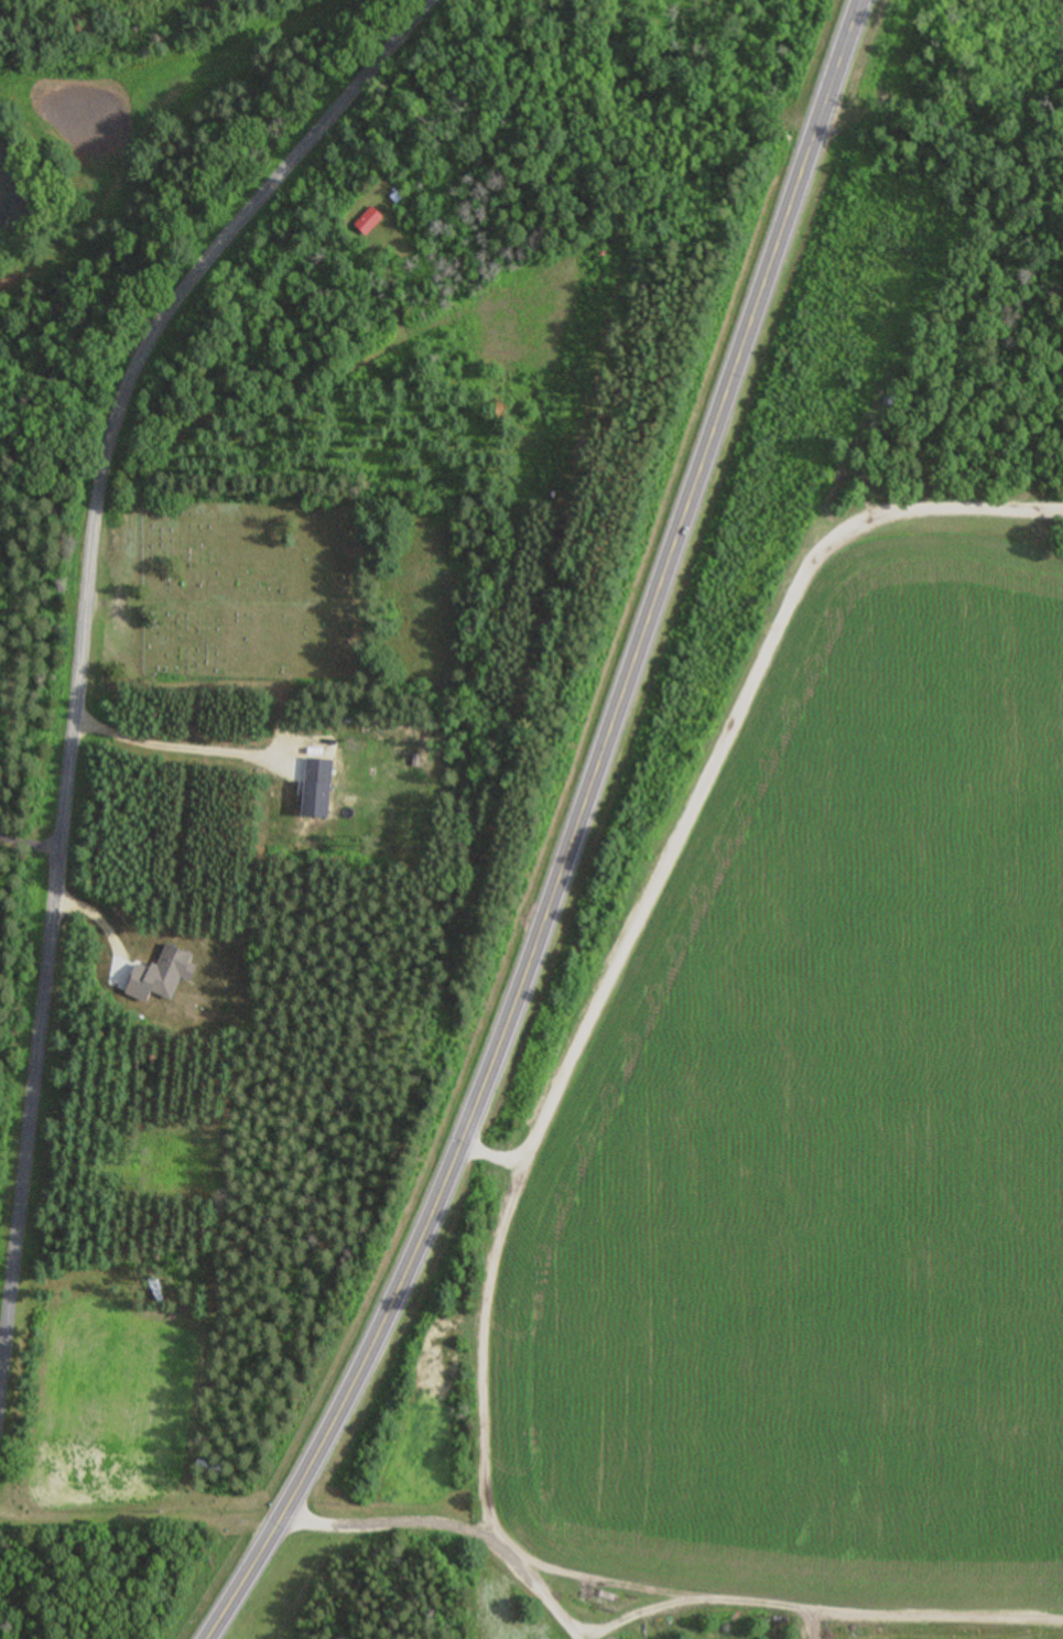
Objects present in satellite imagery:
building: (376, 221)
road: (75, 655)
road: (719, 740)
road: (571, 835)
road: (484, 1328)
road: (462, 1531)
road: (147, 1550)

